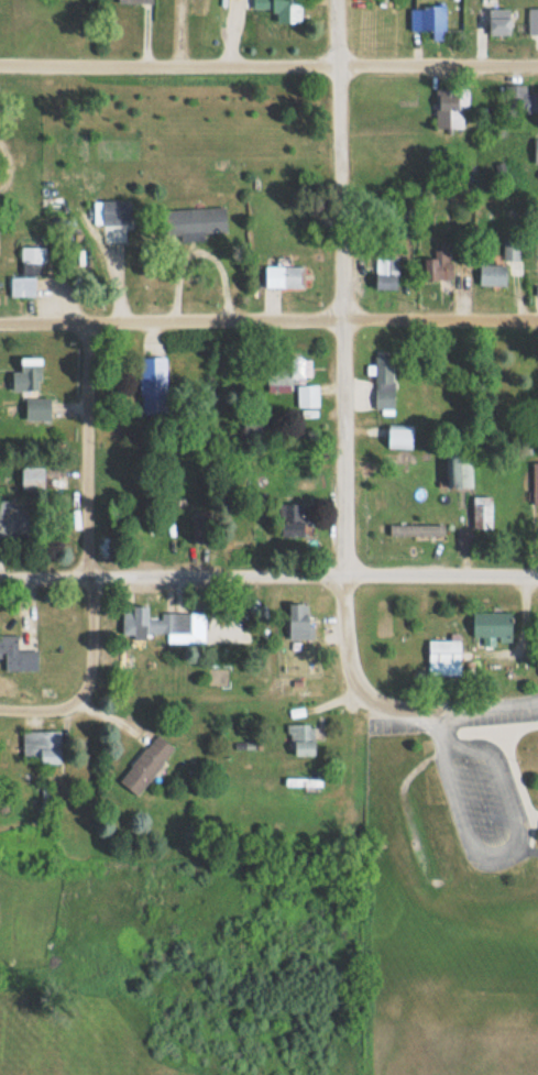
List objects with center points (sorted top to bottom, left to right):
building: (134, 1)
building: (259, 4)
building: (287, 11)
building: (428, 19)
building: (499, 21)
building: (532, 21)
road: (268, 62)
building: (519, 99)
building: (448, 109)
building: (536, 151)
building: (114, 211)
building: (197, 220)
building: (441, 265)
building: (387, 267)
building: (493, 275)
building: (286, 276)
road: (345, 285)
building: (23, 287)
road: (268, 322)
building: (299, 369)
building: (29, 376)
building: (385, 381)
building: (153, 385)
building: (314, 391)
building: (39, 409)
building: (254, 432)
building: (461, 472)
building: (33, 478)
building: (536, 484)
building: (483, 513)
building: (14, 518)
road: (91, 518)
building: (293, 523)
building: (417, 530)
road: (268, 573)
building: (155, 623)
building: (300, 623)
building: (492, 627)
road: (344, 636)
building: (444, 654)
building: (17, 656)
road: (485, 704)
road: (395, 707)
road: (41, 711)
road: (441, 727)
building: (303, 741)
building: (42, 746)
building: (146, 765)
parking lot: (488, 787)
road: (505, 846)
parking lot: (494, 862)

